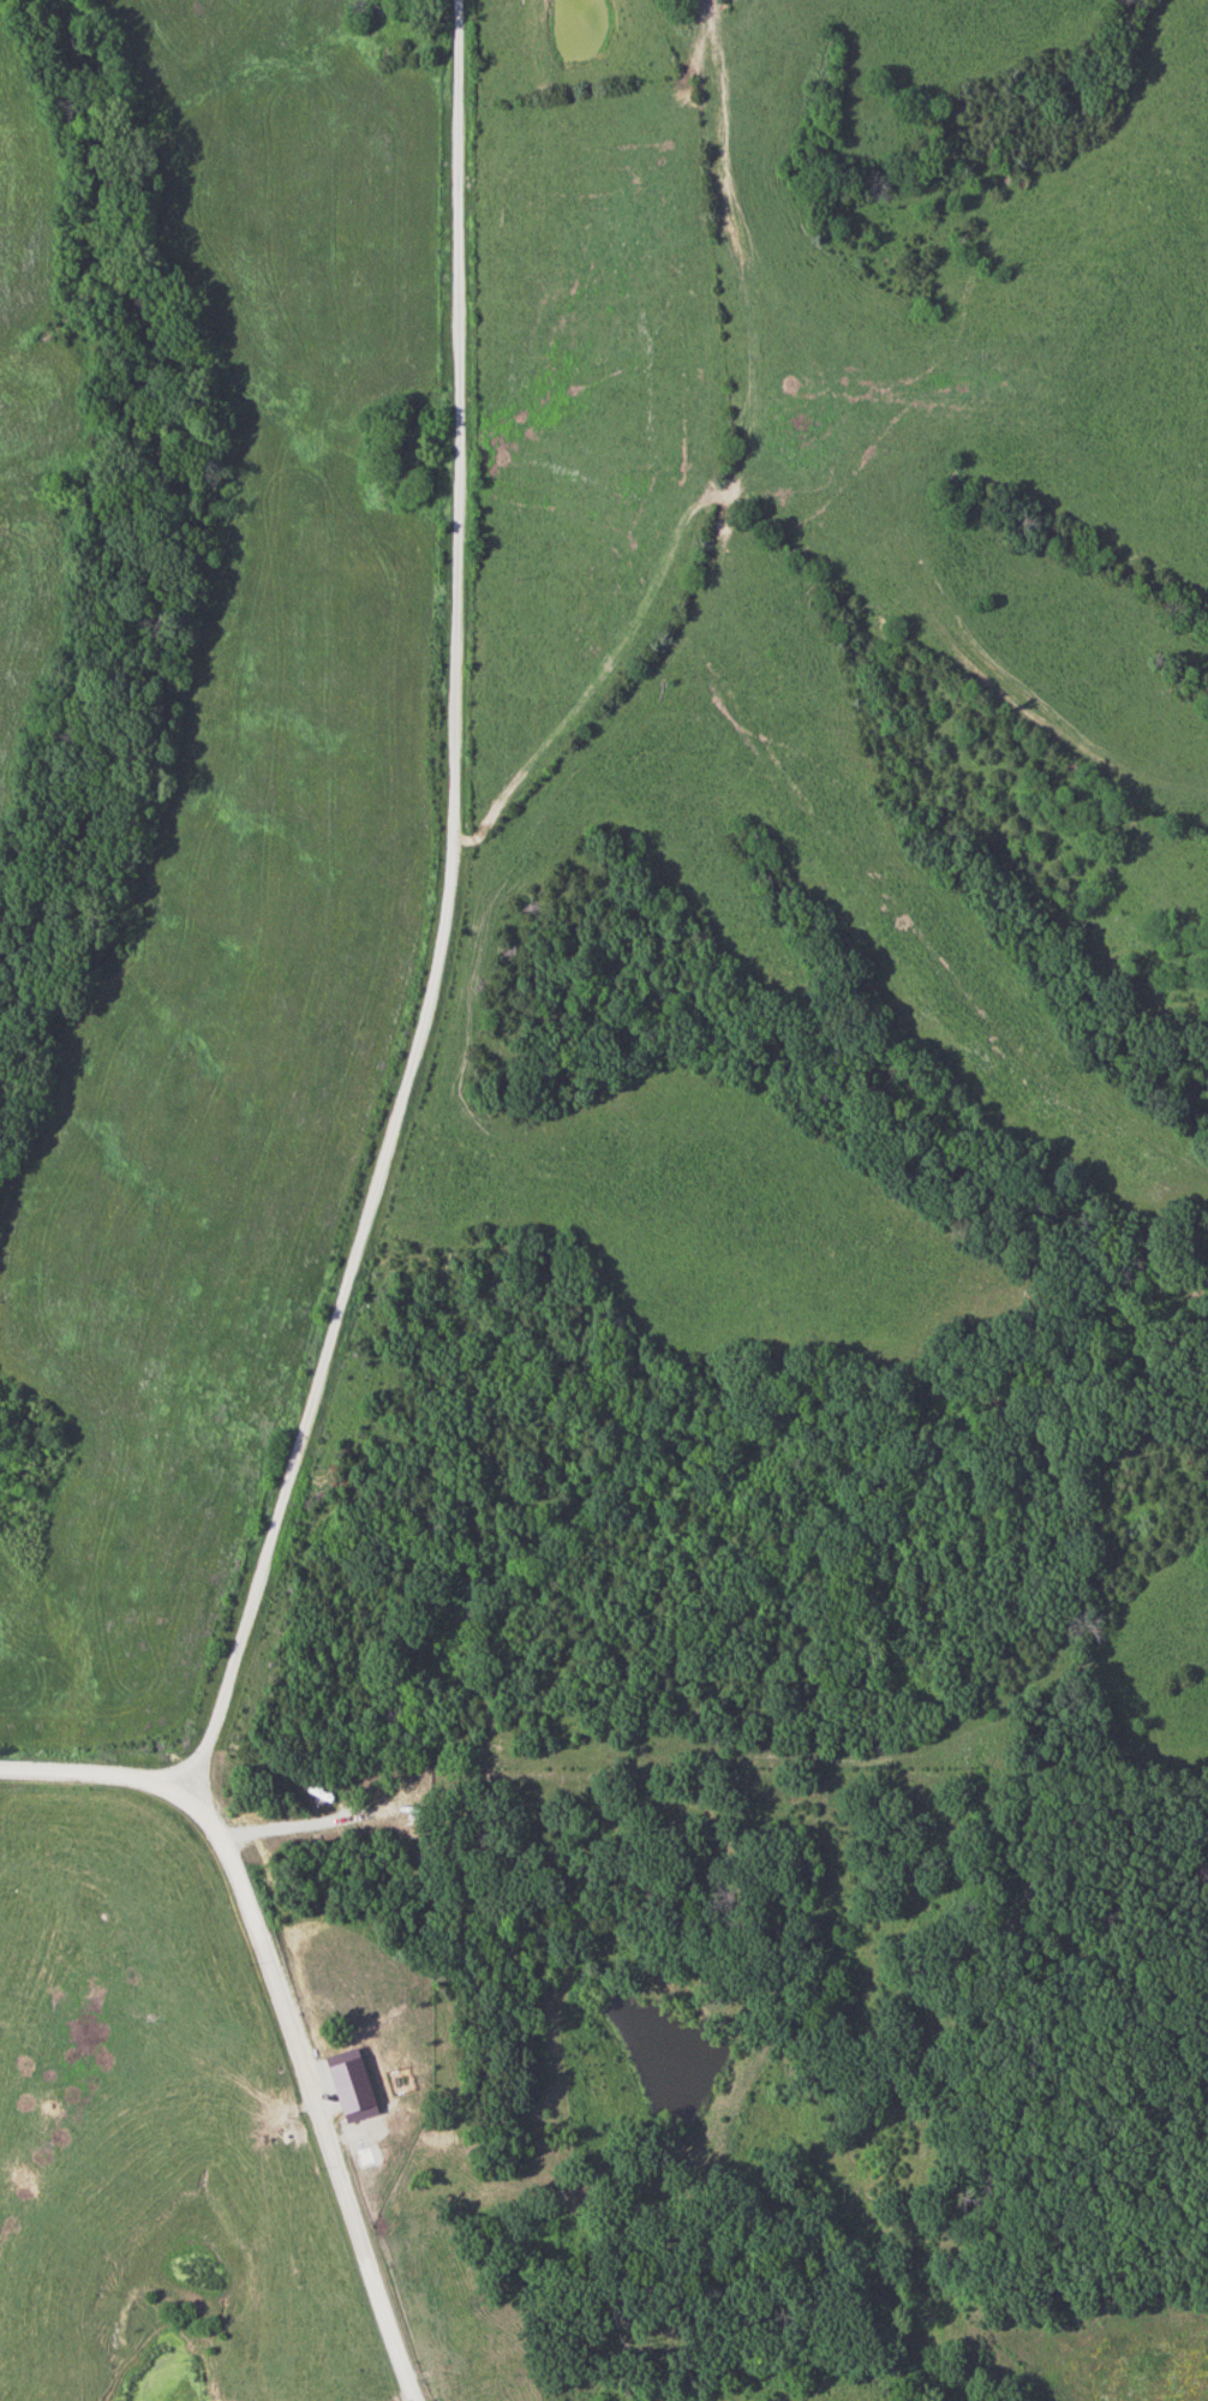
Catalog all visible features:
road: (442, 936)
road: (281, 1997)
building: (359, 2090)

